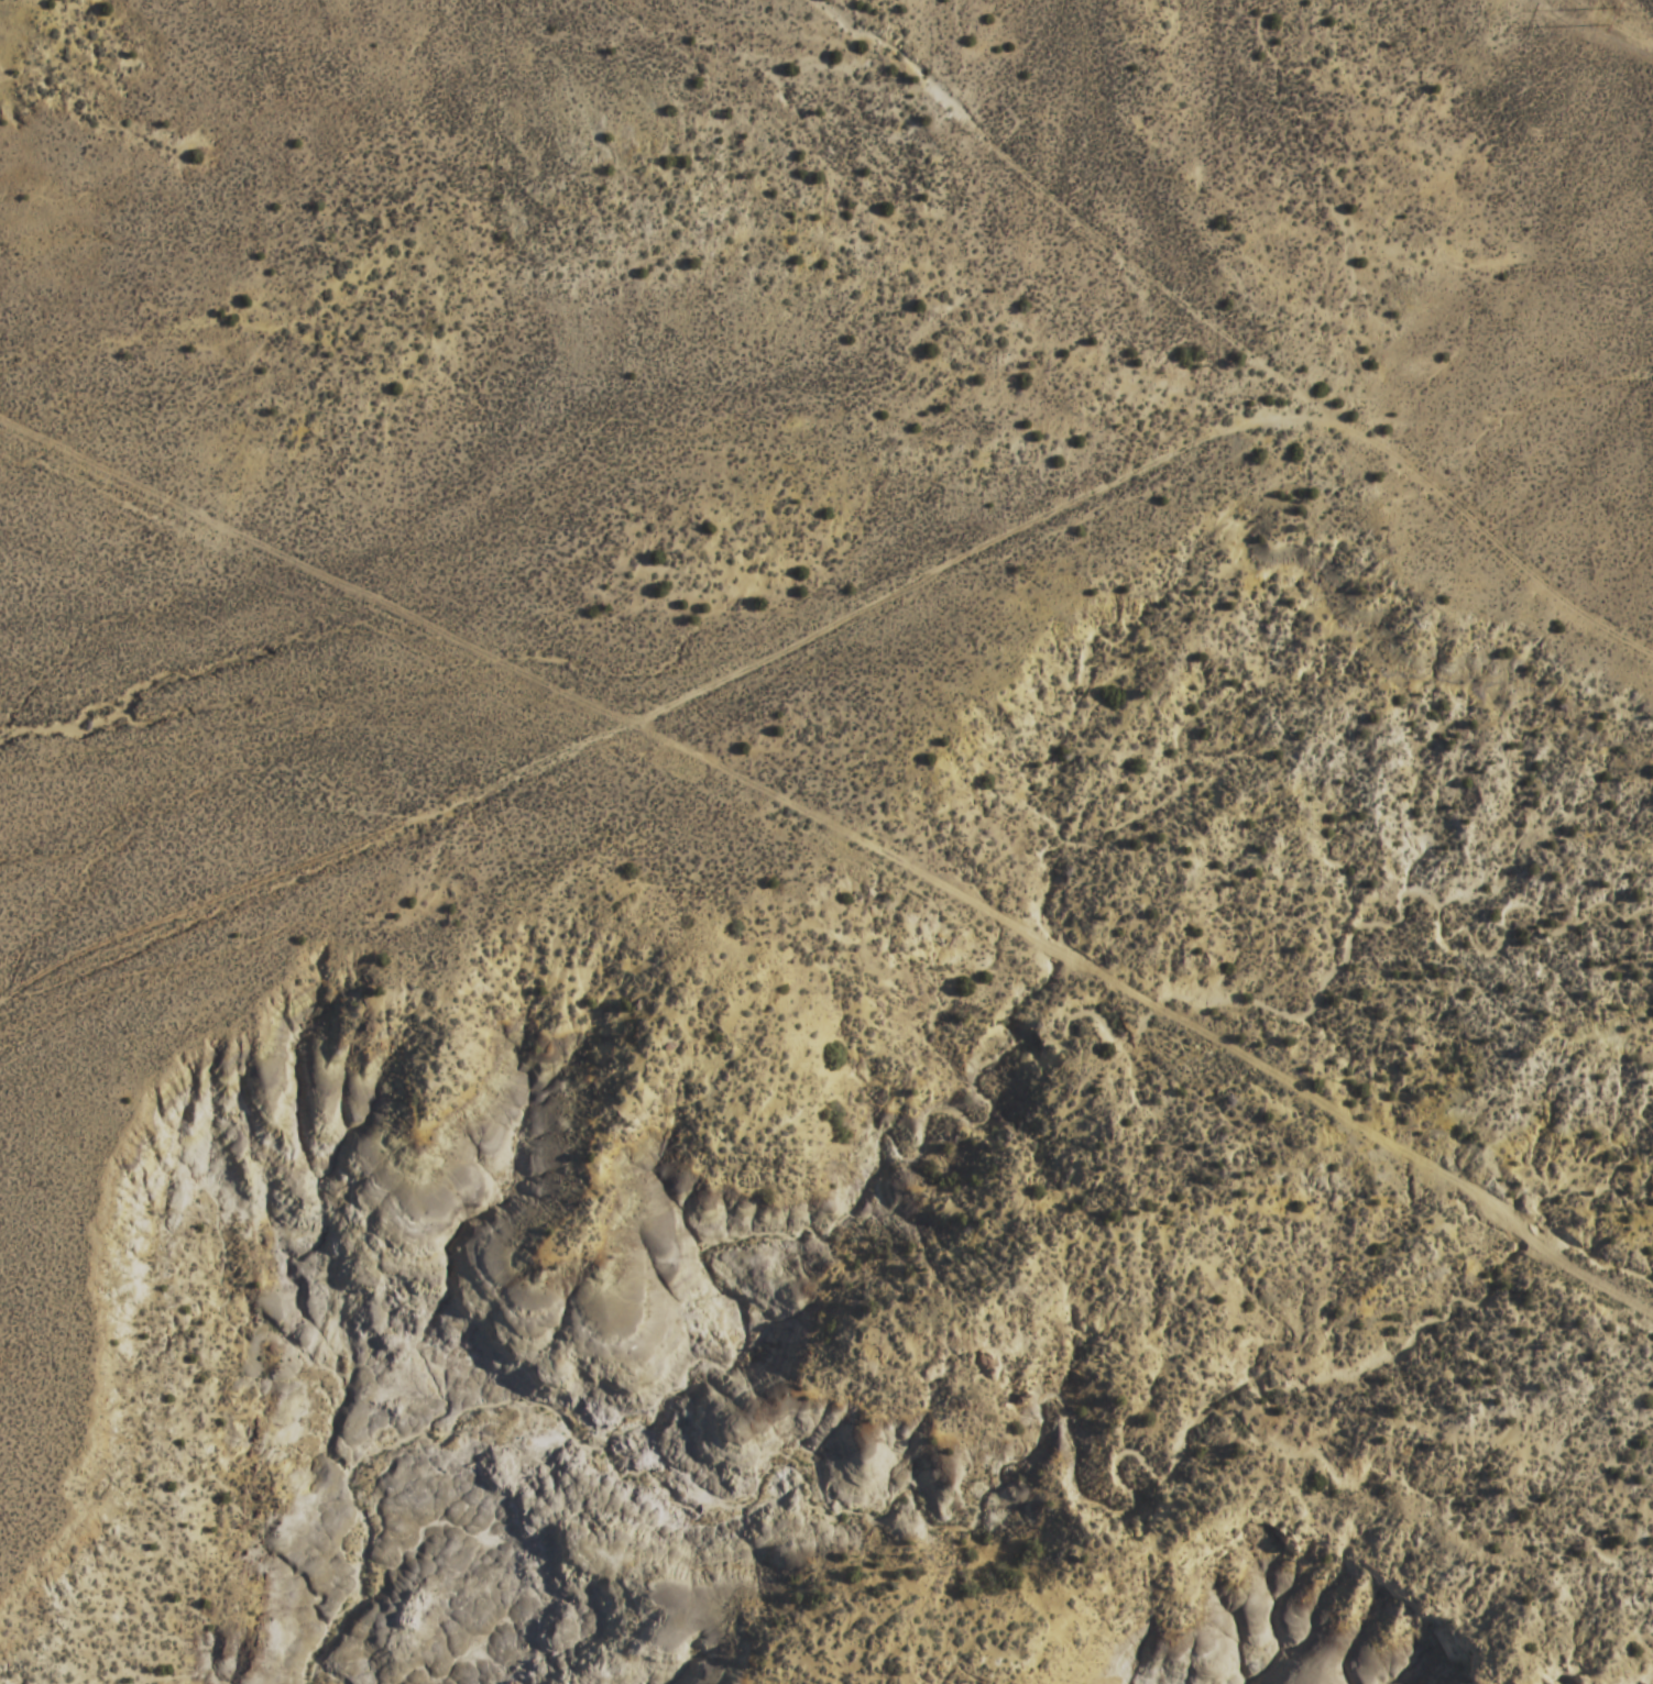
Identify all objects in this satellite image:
power tower: (1595, 13)
road: (1057, 191)
road: (835, 607)

